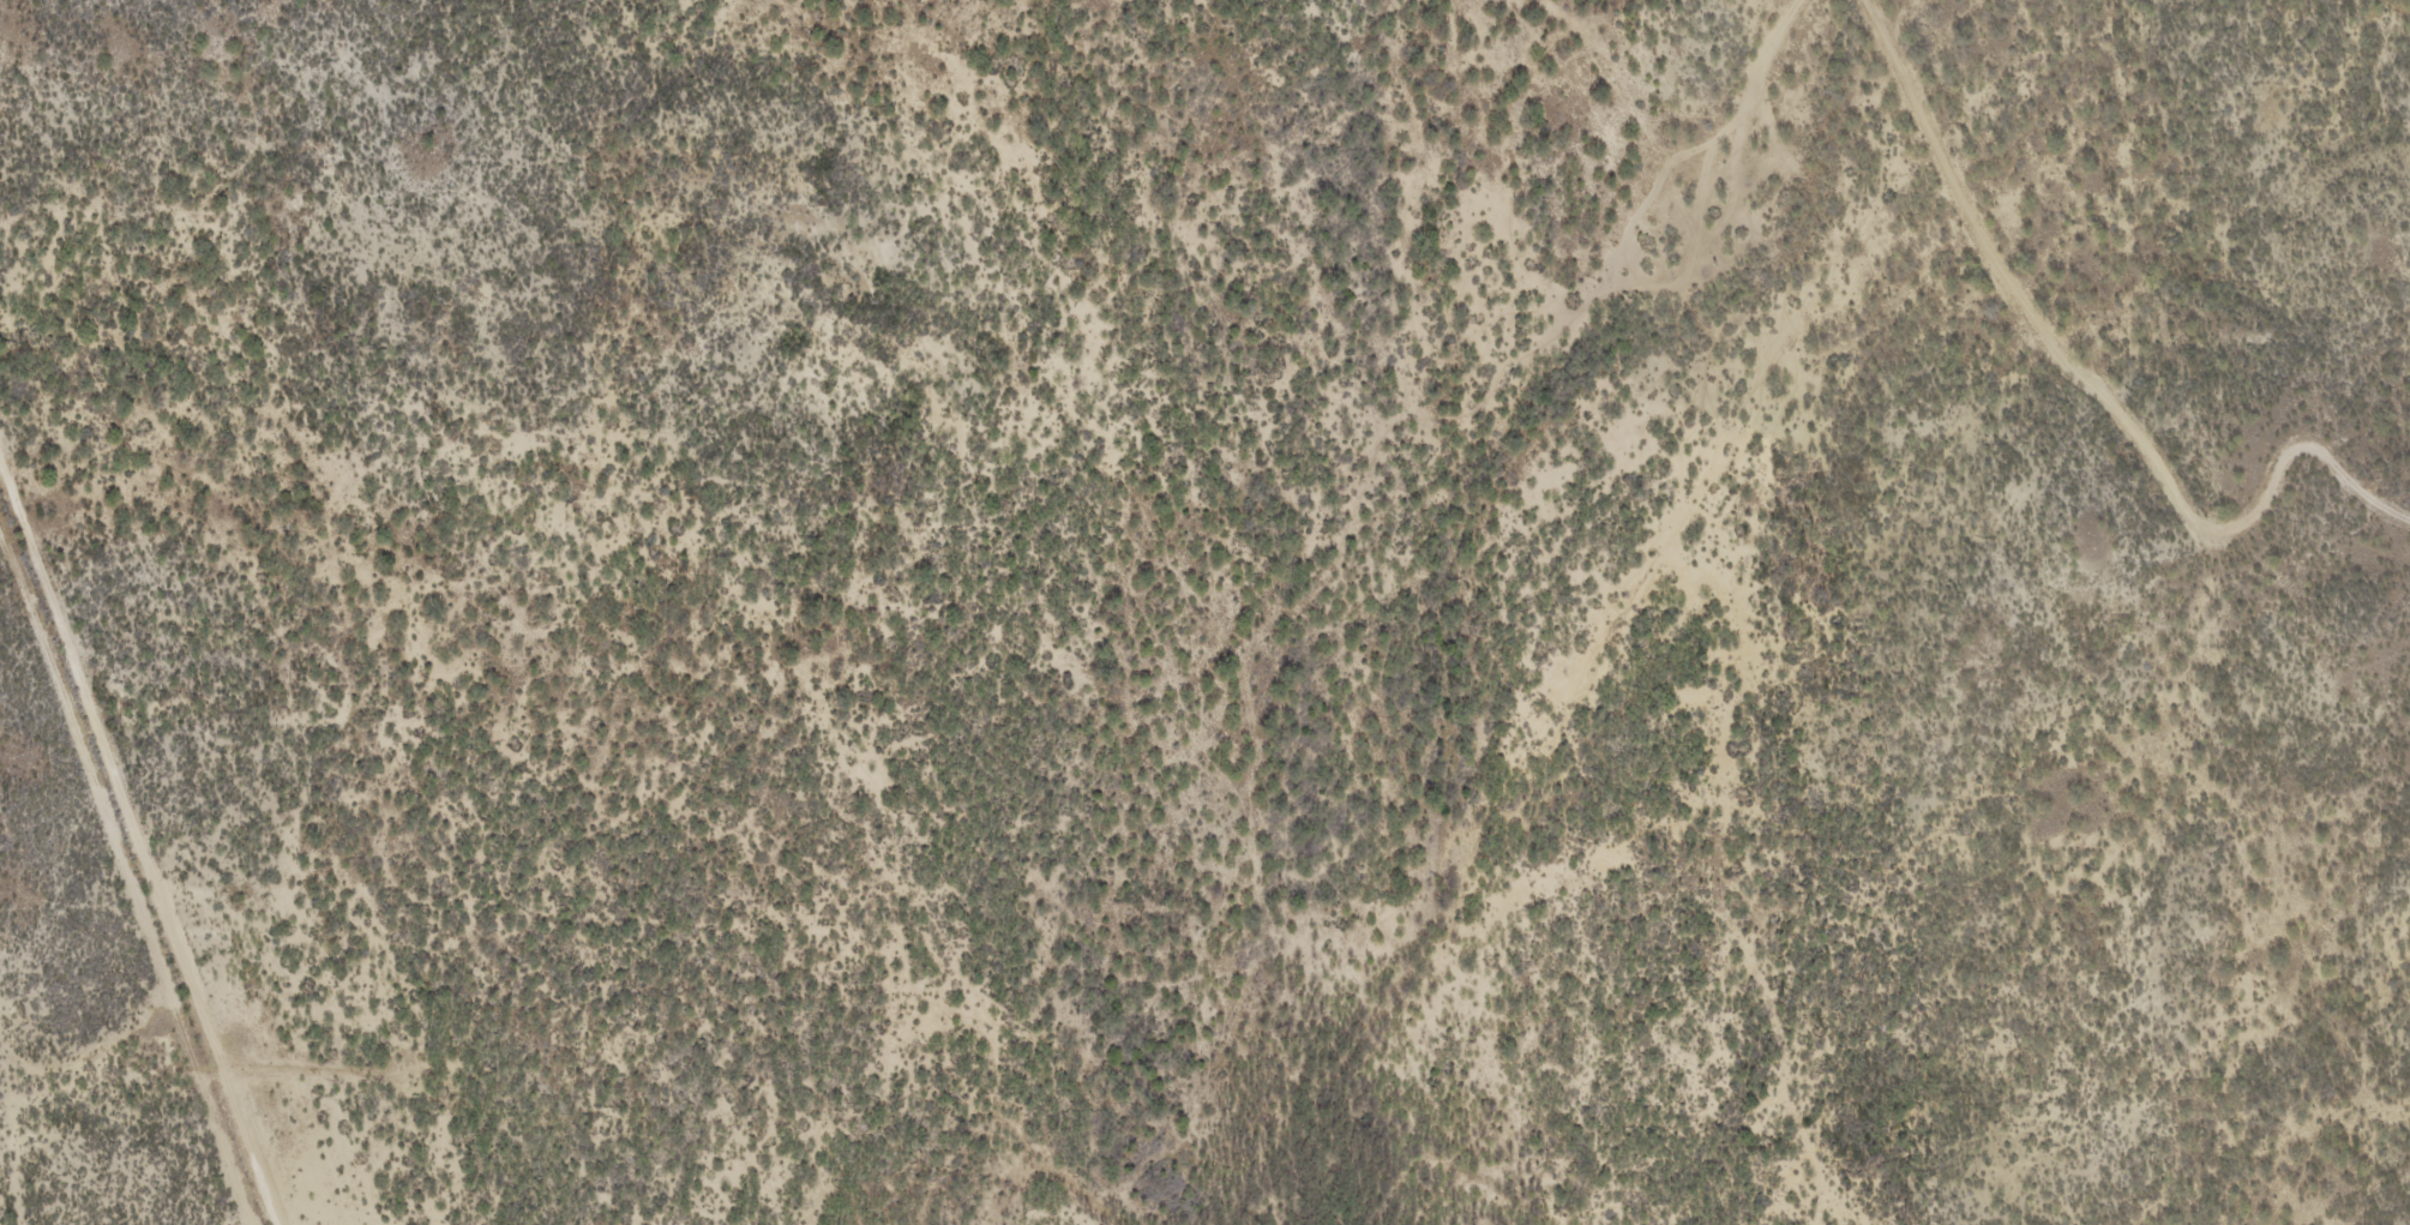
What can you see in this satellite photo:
road: (137, 859)

